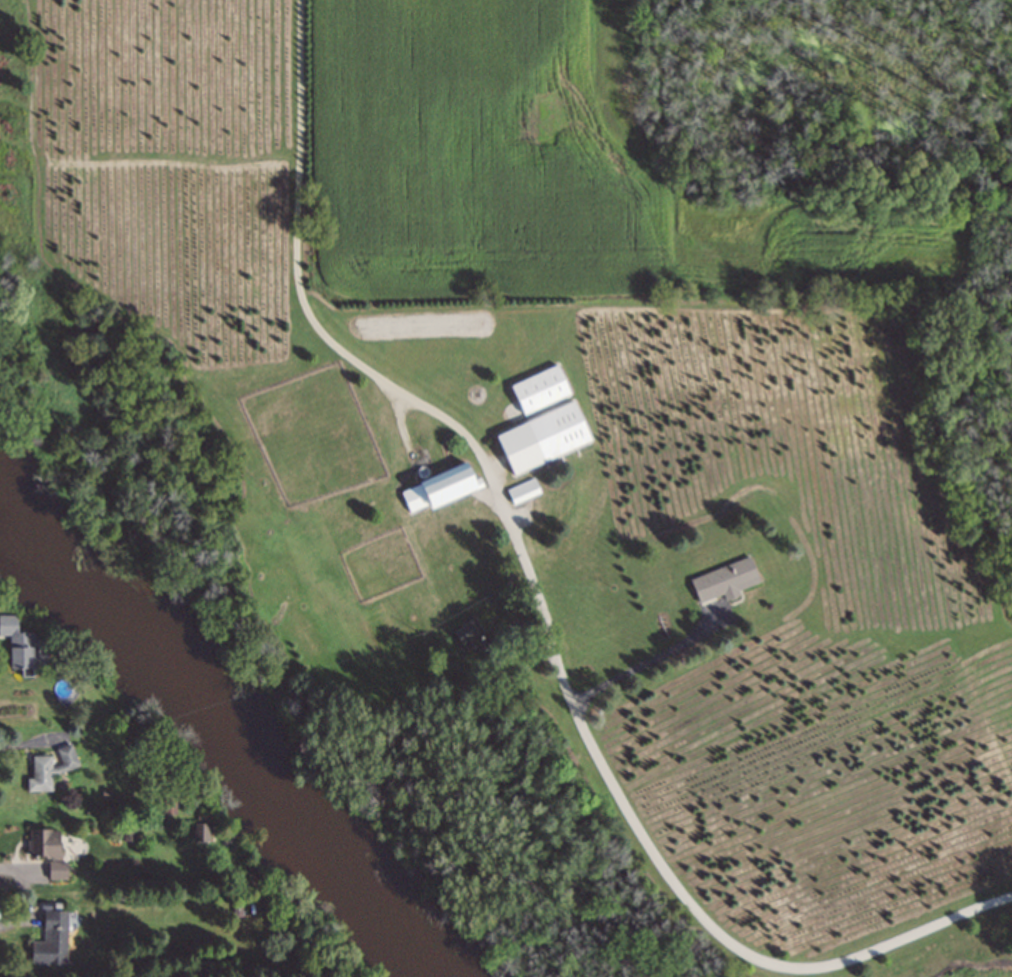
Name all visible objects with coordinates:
building: (540, 391)
building: (543, 439)
river: (1, 482)
building: (440, 489)
building: (522, 493)
building: (724, 581)
road: (537, 599)
building: (468, 633)
building: (18, 645)
road: (650, 659)
road: (17, 745)
river: (232, 752)
building: (50, 769)
building: (200, 833)
building: (44, 844)
road: (8, 869)
building: (56, 870)
road: (6, 925)
building: (51, 941)

